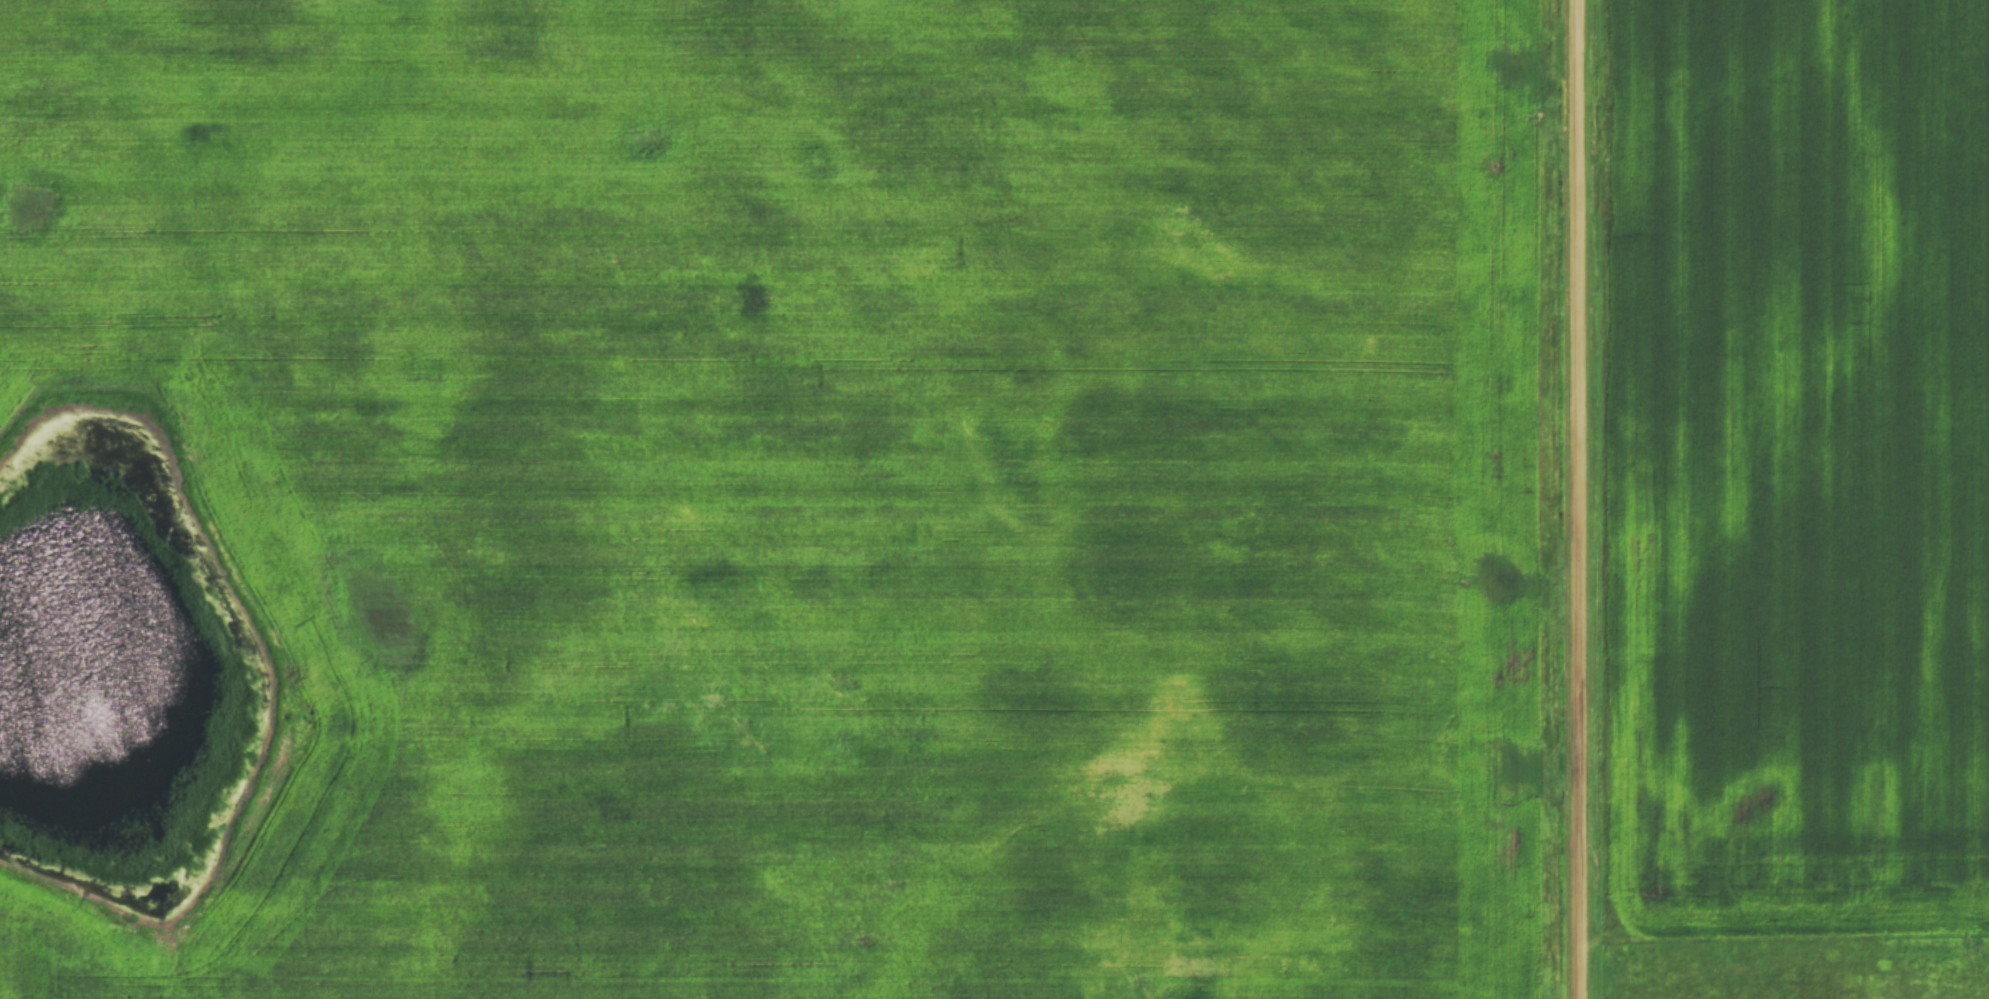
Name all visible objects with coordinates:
road: (1580, 499)

